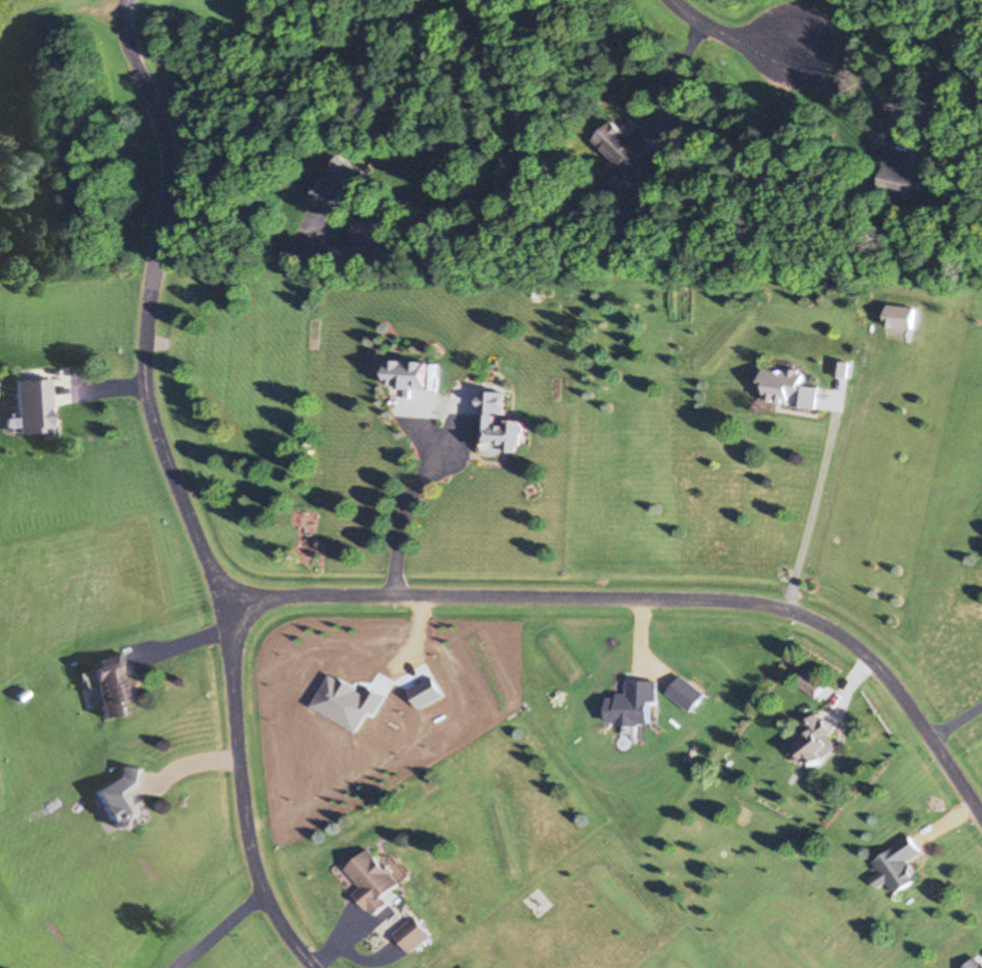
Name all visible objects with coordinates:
road: (119, 8)
road: (731, 35)
building: (904, 115)
building: (632, 150)
building: (911, 173)
building: (340, 187)
building: (370, 246)
building: (843, 367)
building: (409, 372)
building: (789, 387)
building: (36, 403)
building: (500, 424)
road: (175, 489)
road: (652, 600)
building: (111, 684)
building: (817, 742)
building: (122, 796)
building: (898, 864)
building: (373, 879)
building: (412, 933)
building: (974, 962)
building: (472, 967)

